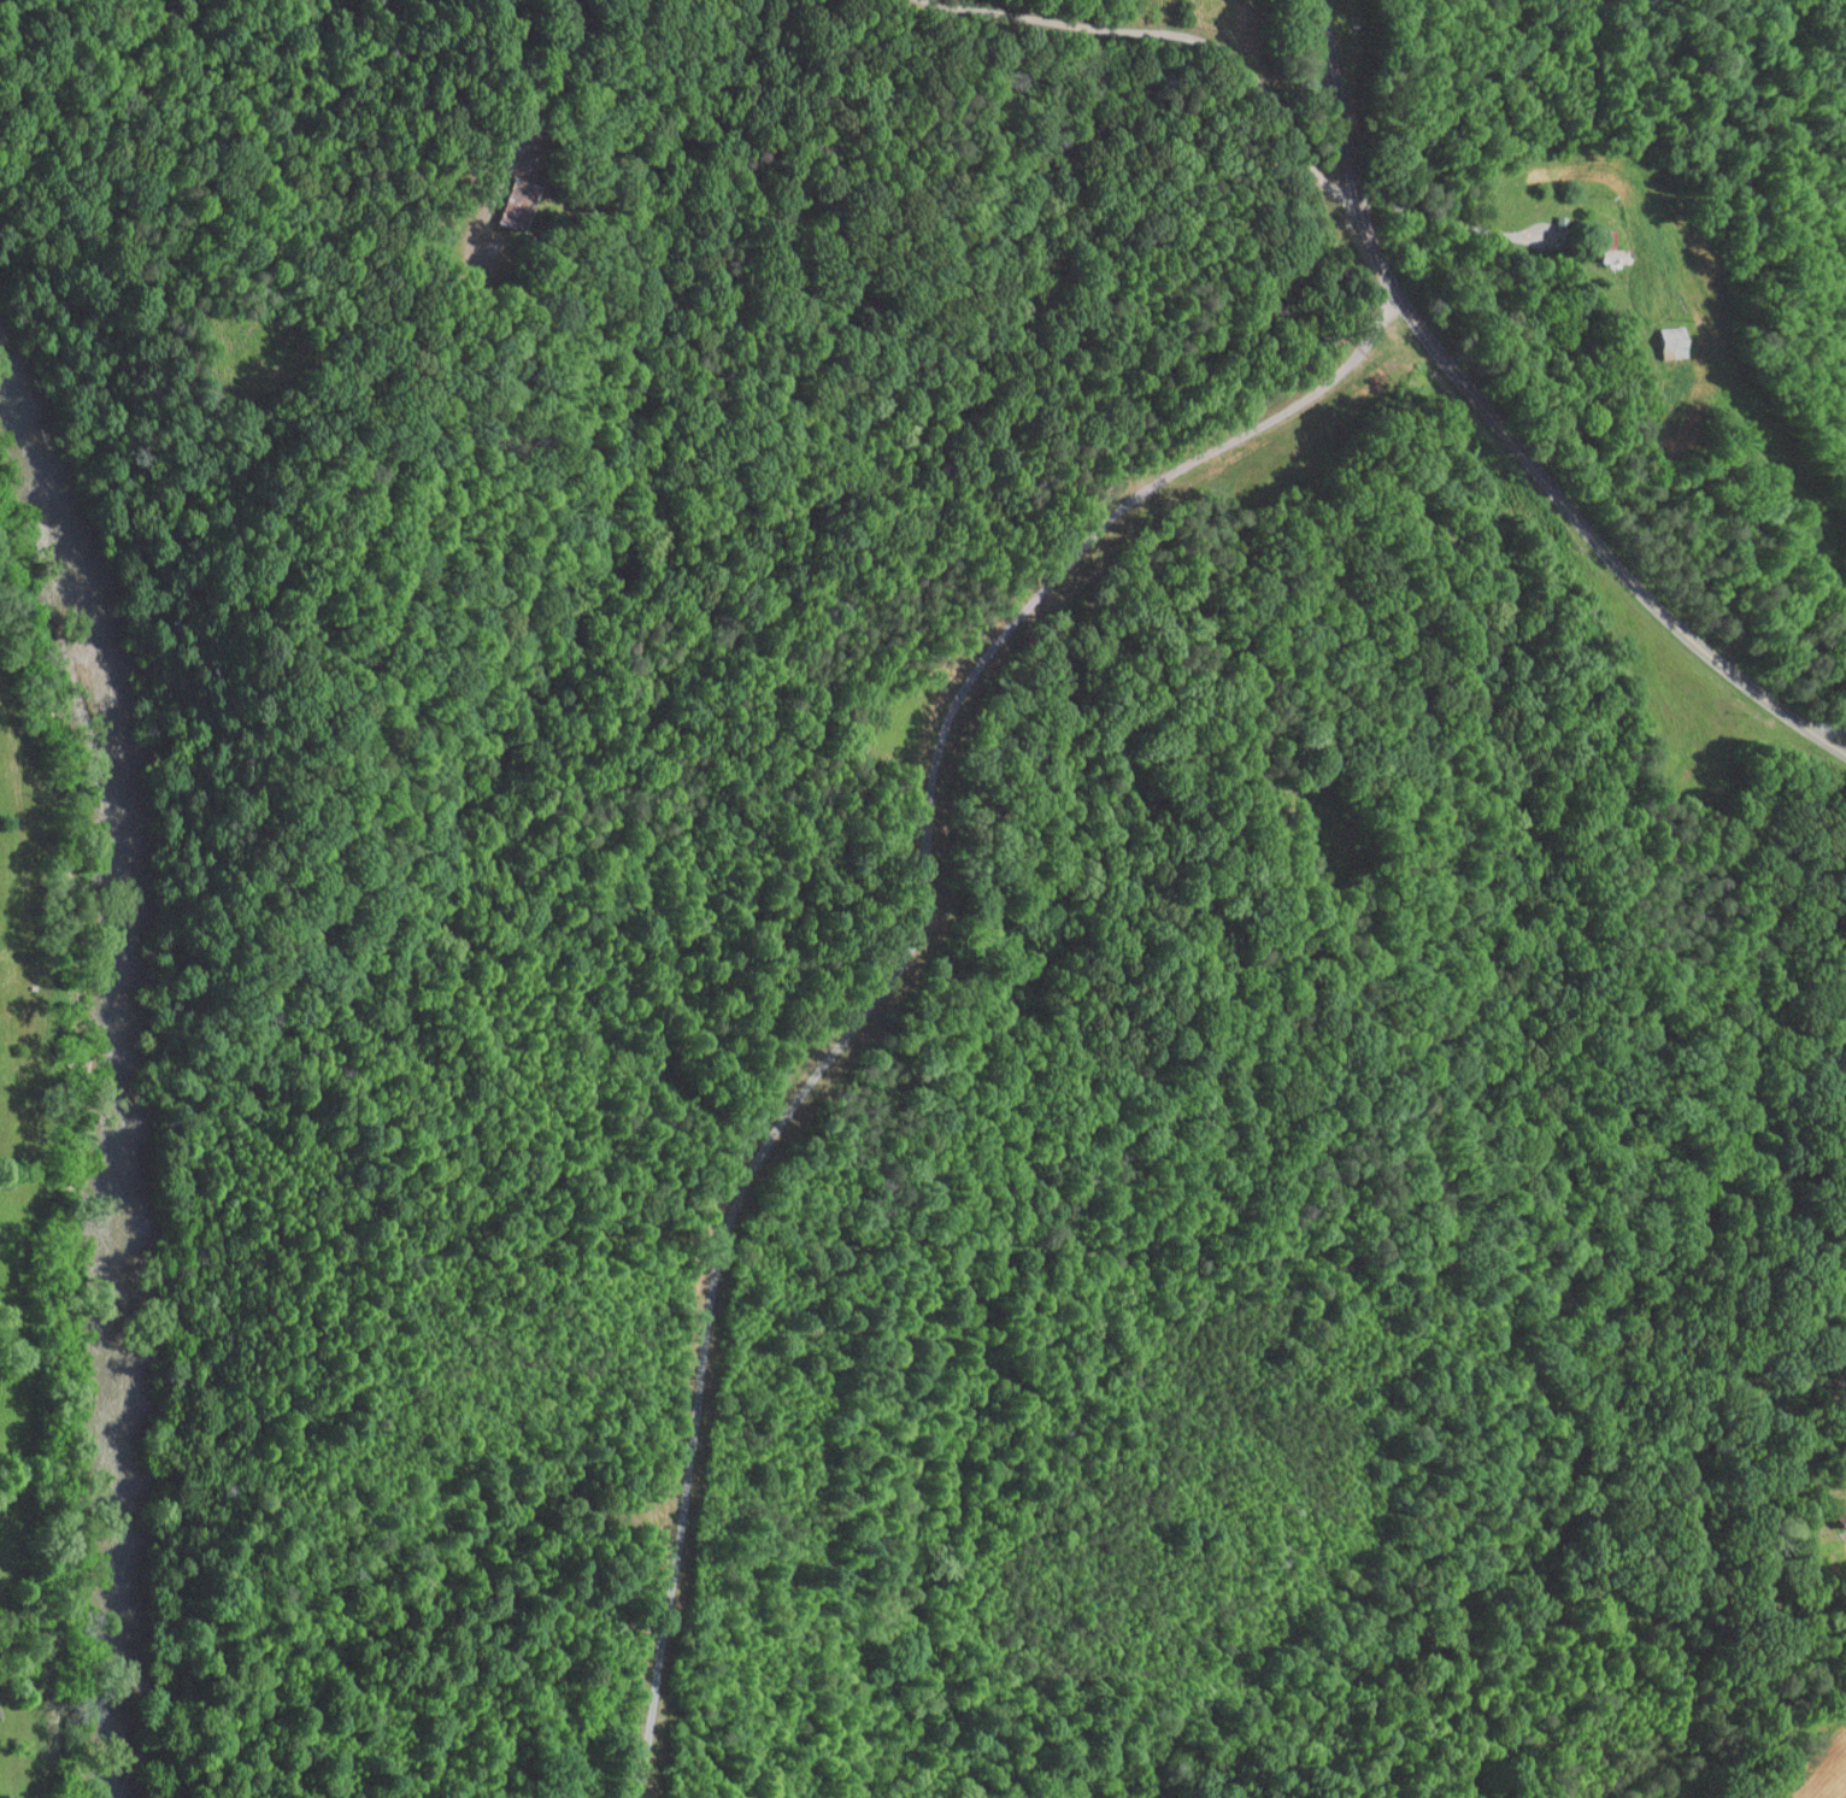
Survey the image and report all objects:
road: (1186, 35)
building: (1675, 347)
road: (1500, 429)
river: (118, 1077)

